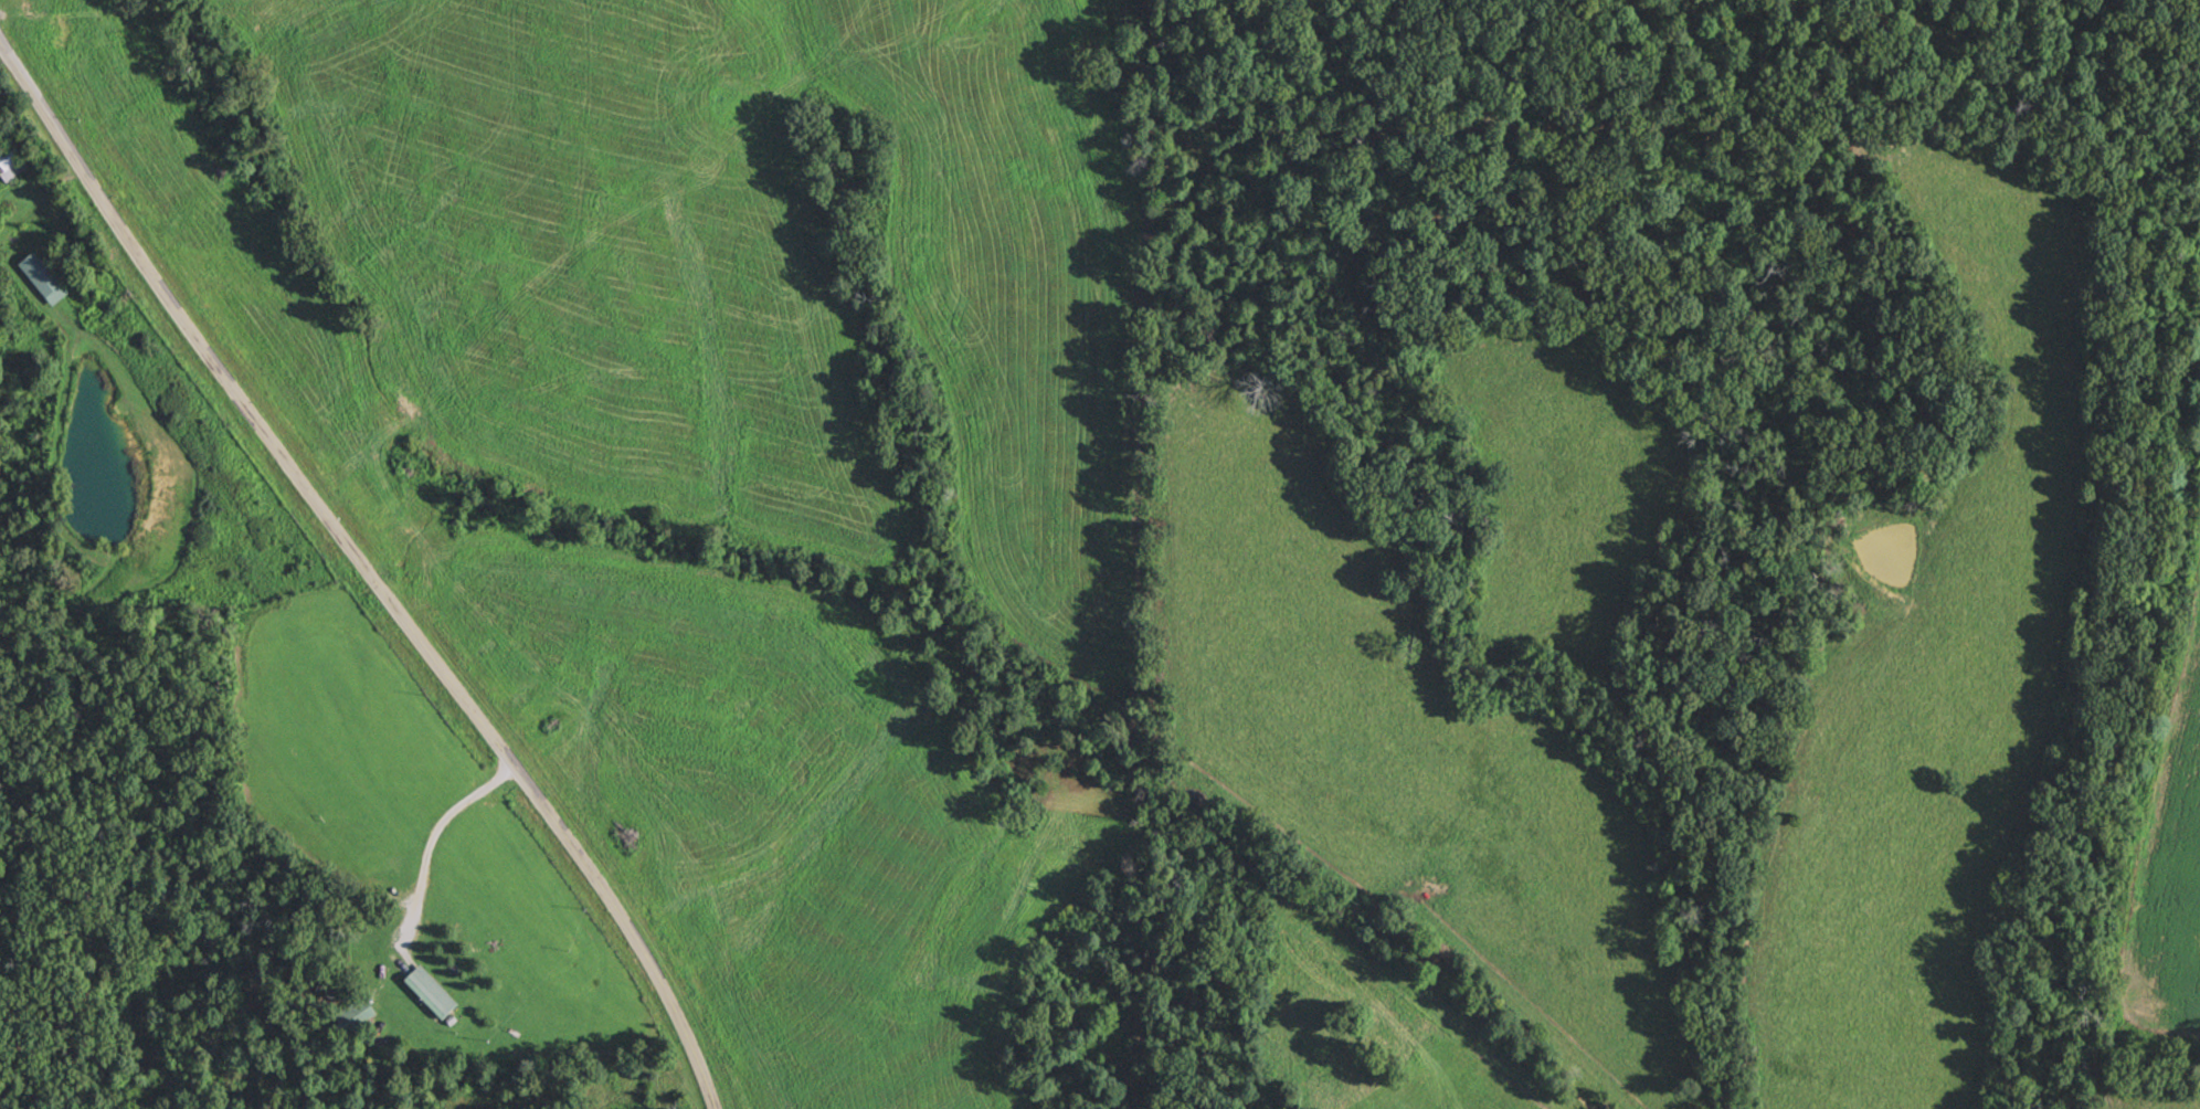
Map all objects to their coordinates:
building: (11, 162)
building: (44, 277)
road: (372, 574)
building: (432, 992)
building: (356, 1017)

